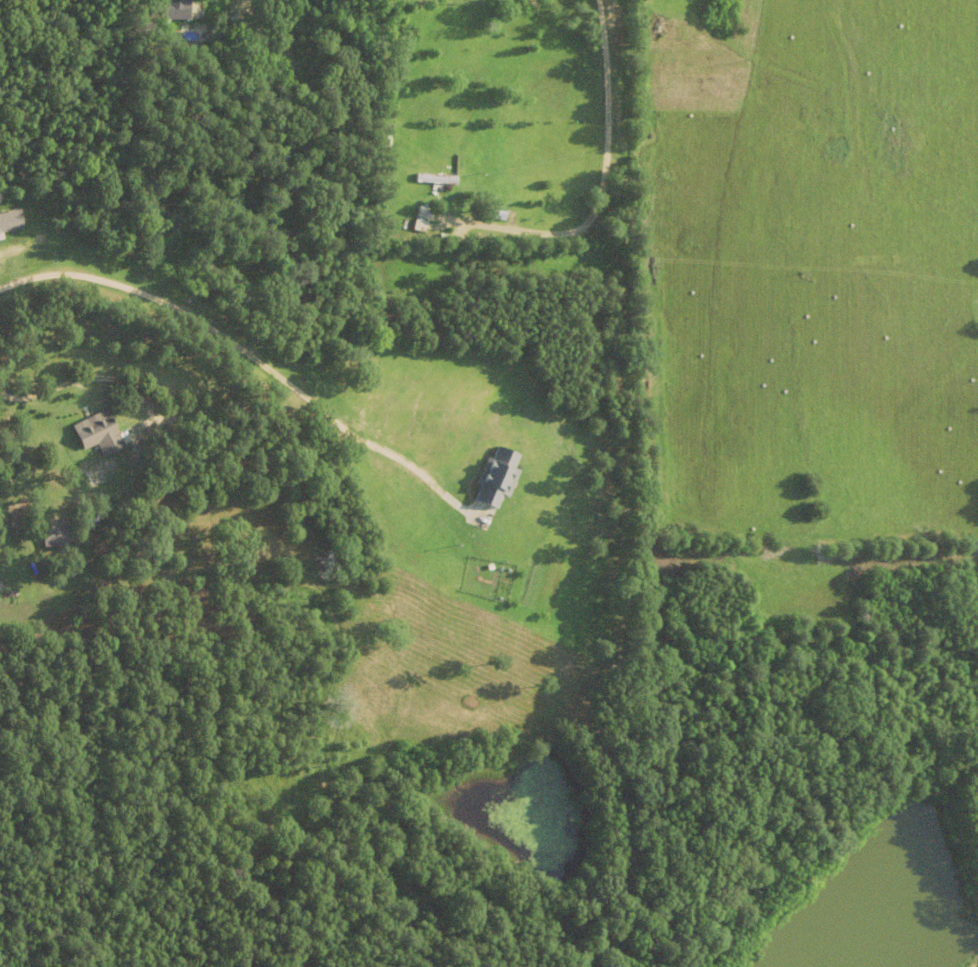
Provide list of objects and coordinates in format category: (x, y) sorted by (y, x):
building: (172, 9)
building: (436, 176)
building: (436, 181)
building: (424, 210)
building: (501, 217)
building: (10, 219)
road: (620, 323)
road: (248, 353)
road: (100, 377)
building: (97, 432)
building: (499, 475)
building: (54, 536)

